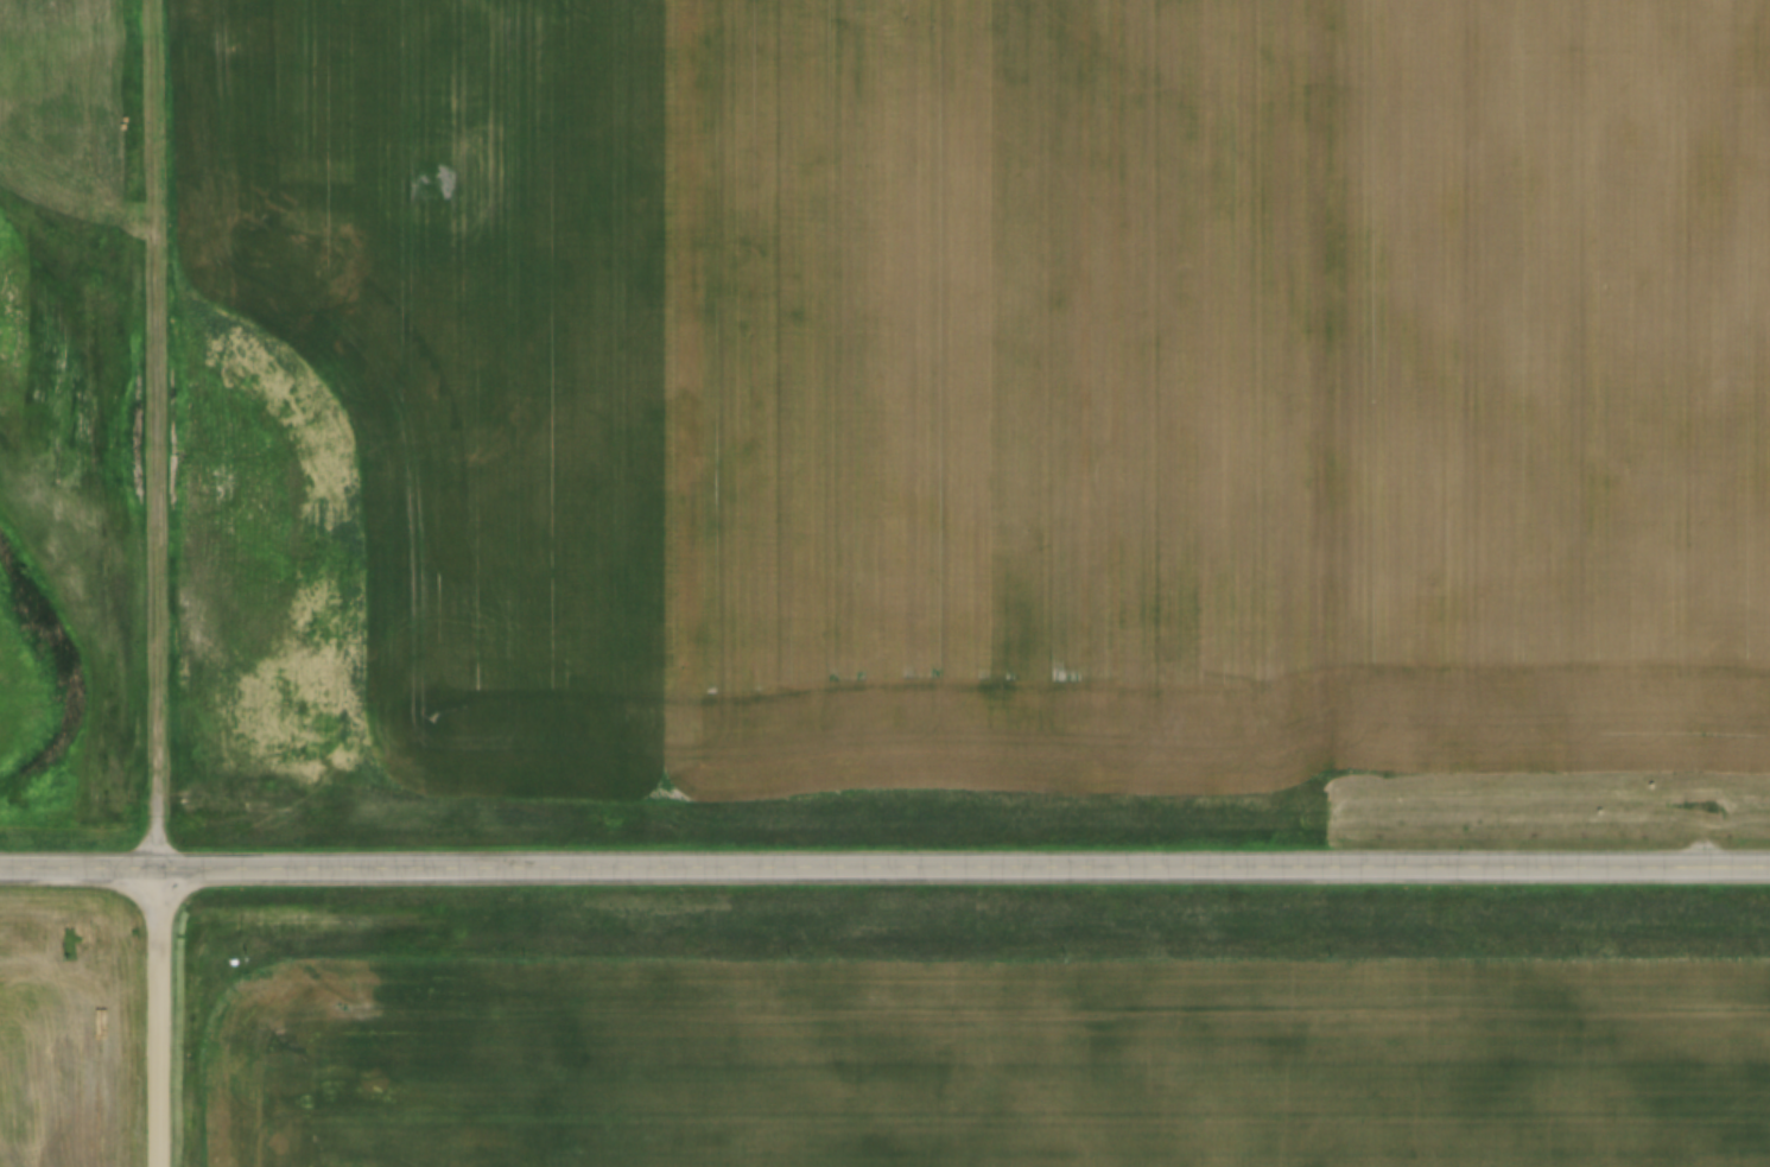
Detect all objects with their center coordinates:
road: (158, 433)
road: (884, 870)
road: (159, 1017)

